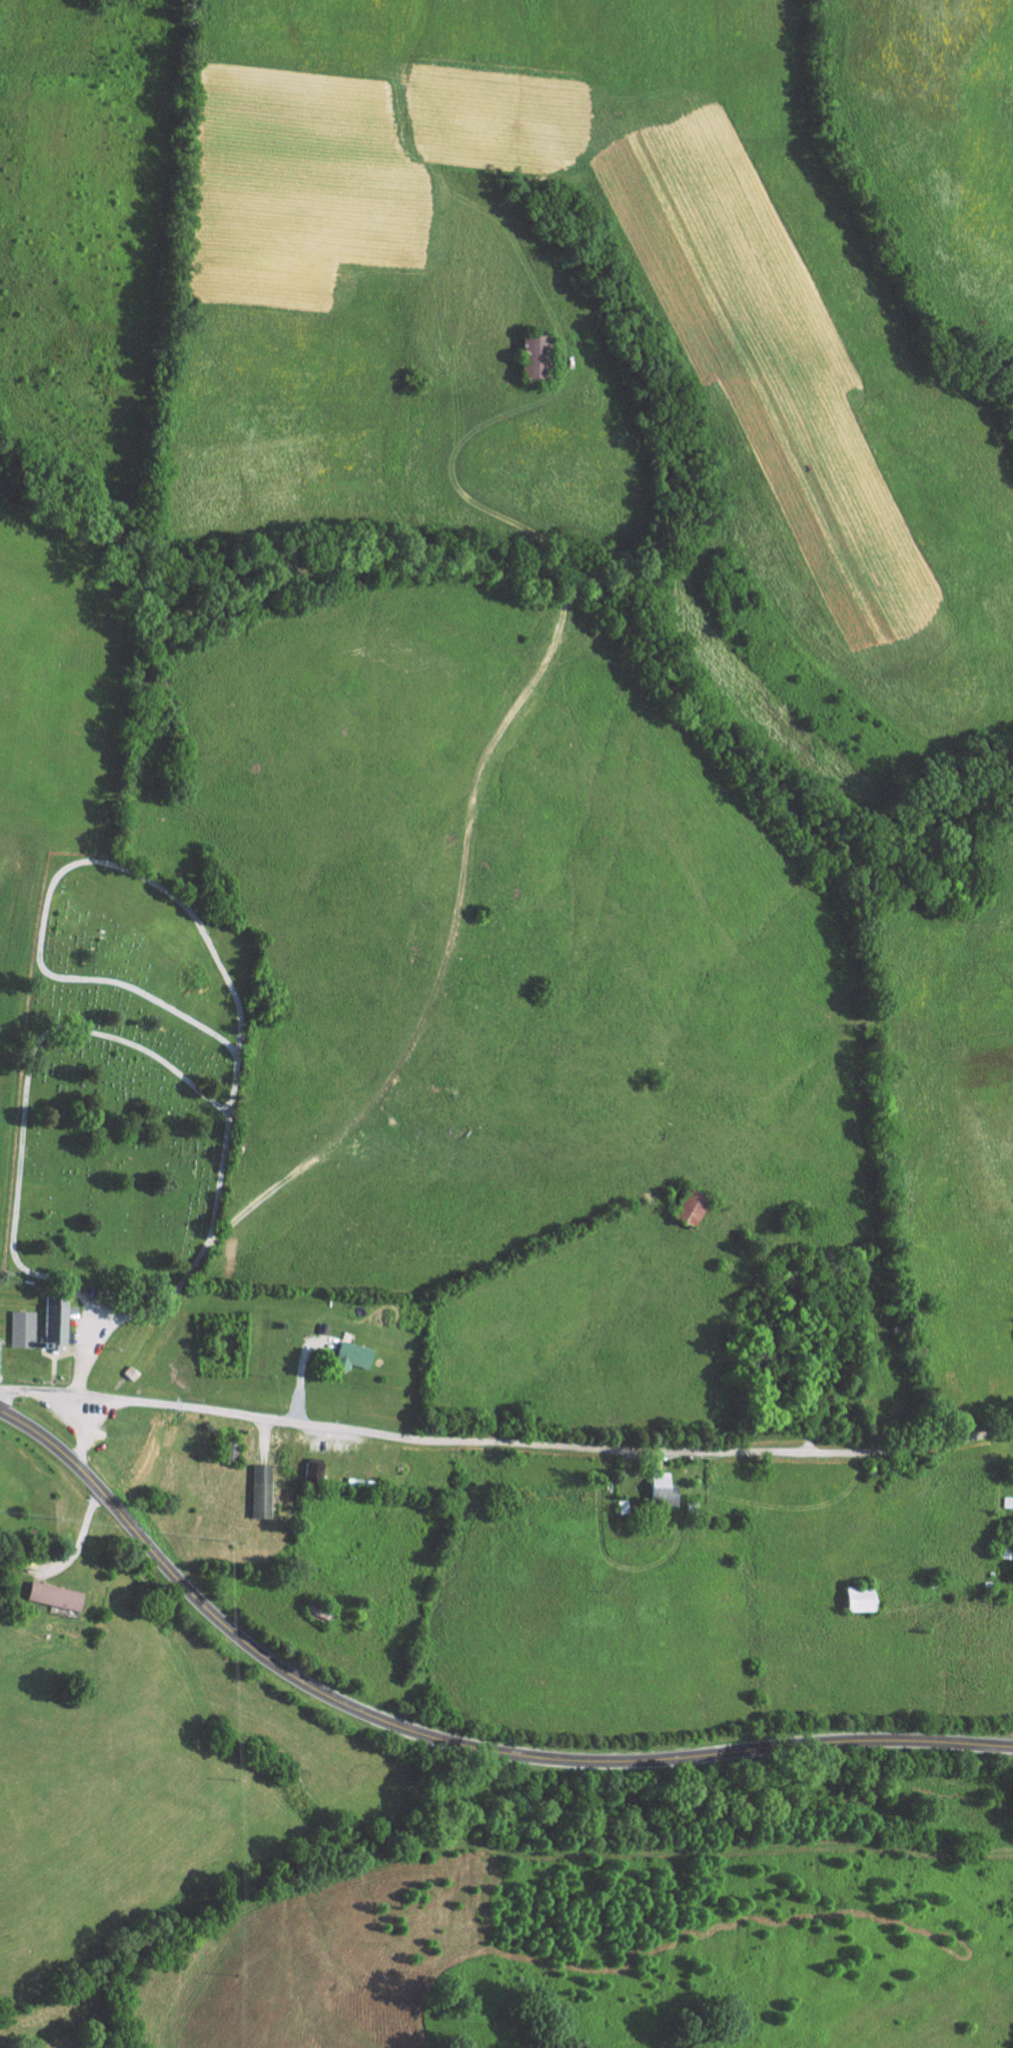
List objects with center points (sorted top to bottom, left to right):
building: (542, 356)
park: (127, 1077)
building: (697, 1208)
building: (54, 1321)
building: (21, 1327)
building: (1, 1356)
building: (357, 1356)
road: (505, 1441)
building: (315, 1472)
building: (666, 1490)
building: (265, 1492)
building: (60, 1597)
building: (855, 1598)
road: (448, 1741)

